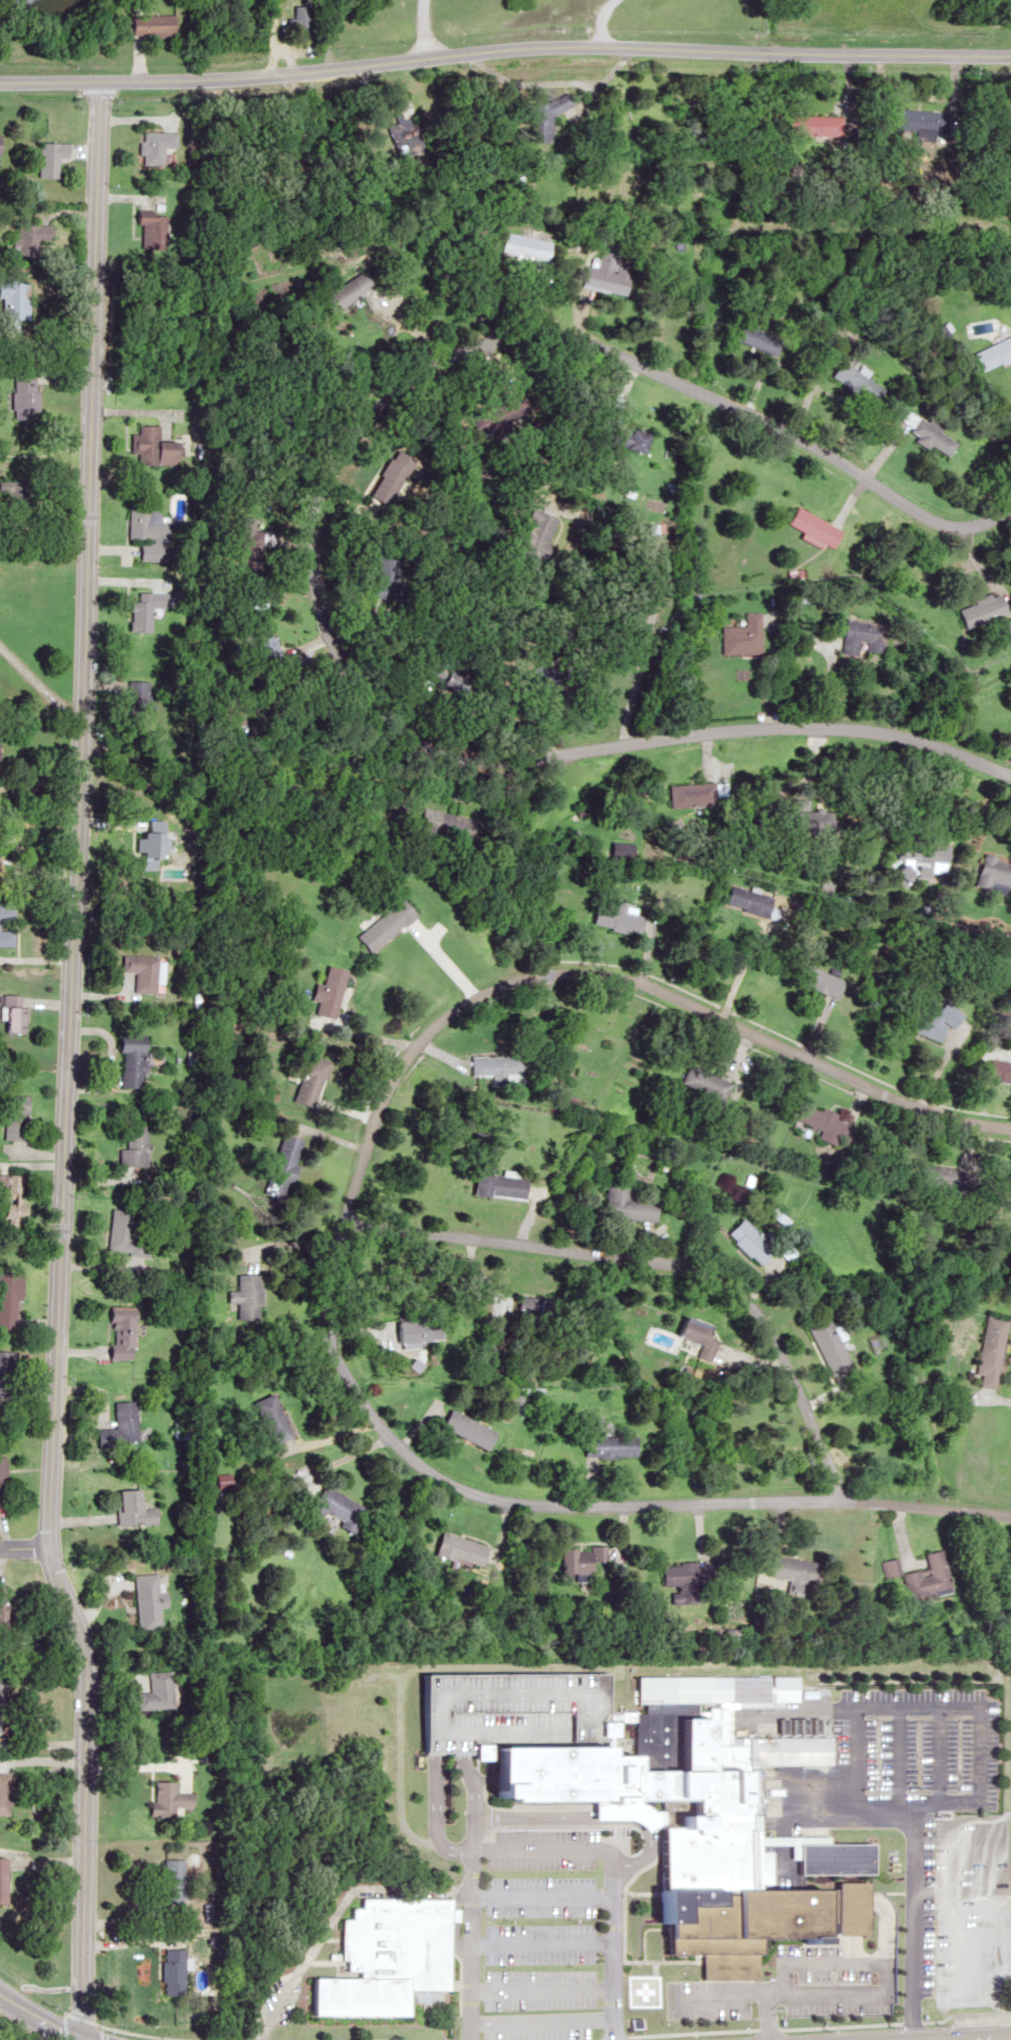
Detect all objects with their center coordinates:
building: (303, 16)
road: (601, 21)
building: (153, 26)
road: (421, 28)
road: (504, 51)
building: (556, 107)
building: (1010, 107)
building: (825, 125)
building: (0, 144)
building: (155, 146)
building: (52, 158)
building: (151, 231)
building: (531, 246)
building: (610, 272)
building: (347, 291)
building: (14, 299)
building: (994, 352)
road: (635, 364)
building: (863, 386)
building: (25, 396)
building: (926, 431)
building: (154, 448)
building: (17, 492)
building: (813, 528)
building: (146, 531)
building: (143, 609)
building: (982, 610)
building: (1008, 627)
building: (742, 636)
building: (861, 636)
building: (135, 693)
road: (586, 749)
building: (824, 821)
building: (447, 824)
building: (157, 845)
building: (619, 851)
building: (926, 854)
building: (997, 871)
building: (751, 902)
building: (613, 916)
building: (387, 925)
building: (1, 926)
building: (145, 972)
road: (618, 981)
building: (819, 981)
building: (330, 994)
building: (13, 1013)
building: (934, 1021)
road: (65, 1064)
building: (134, 1065)
building: (499, 1068)
building: (998, 1071)
building: (312, 1080)
building: (705, 1081)
building: (15, 1117)
building: (825, 1124)
building: (135, 1145)
building: (286, 1160)
building: (500, 1185)
building: (13, 1197)
building: (629, 1204)
building: (121, 1226)
building: (753, 1242)
road: (656, 1263)
building: (249, 1297)
building: (10, 1300)
building: (552, 1308)
building: (420, 1330)
building: (701, 1331)
building: (124, 1335)
building: (831, 1346)
building: (989, 1350)
building: (5, 1374)
building: (122, 1427)
building: (470, 1430)
building: (612, 1446)
building: (1, 1482)
road: (574, 1504)
building: (340, 1508)
building: (135, 1509)
road: (22, 1547)
building: (462, 1549)
building: (581, 1560)
building: (887, 1567)
building: (801, 1572)
building: (687, 1575)
building: (923, 1575)
building: (148, 1603)
building: (156, 1692)
building: (1, 1699)
road: (947, 1704)
road: (895, 1751)
road: (936, 1751)
building: (5, 1794)
building: (666, 1797)
building: (169, 1799)
road: (471, 1803)
road: (434, 1811)
road: (912, 1855)
road: (470, 1876)
building: (174, 1879)
building: (3, 1880)
road: (541, 1895)
road: (333, 1910)
road: (541, 1941)
road: (613, 1945)
building: (391, 1957)
building: (171, 1971)
road: (541, 1986)
helipad: (642, 1990)
road: (862, 1994)
road: (767, 2017)
road: (39, 2018)
road: (541, 2020)
road: (802, 2024)
road: (962, 2037)
road: (1009, 2037)
road: (225, 2038)

